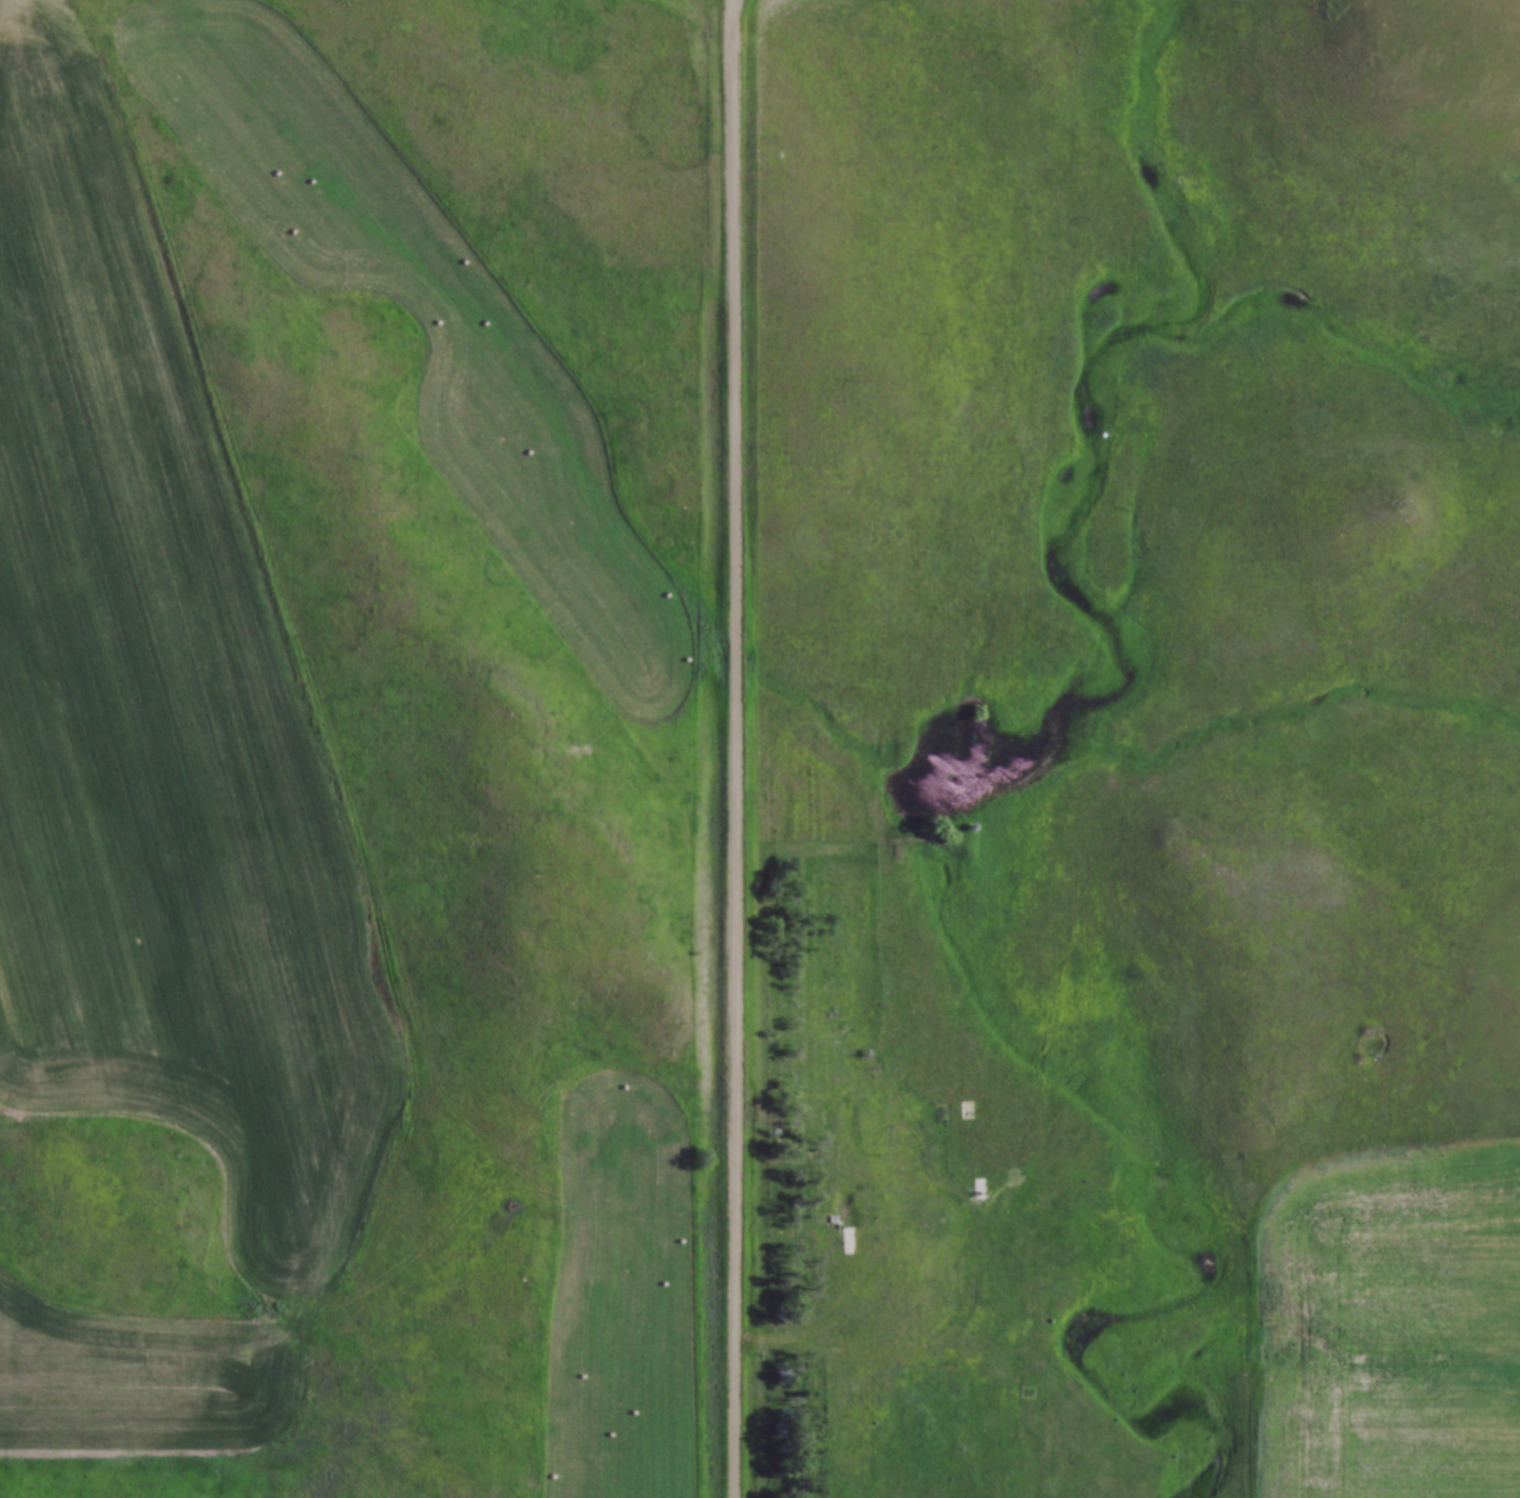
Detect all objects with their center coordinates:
road: (731, 748)
building: (847, 1239)
road: (842, 1293)

